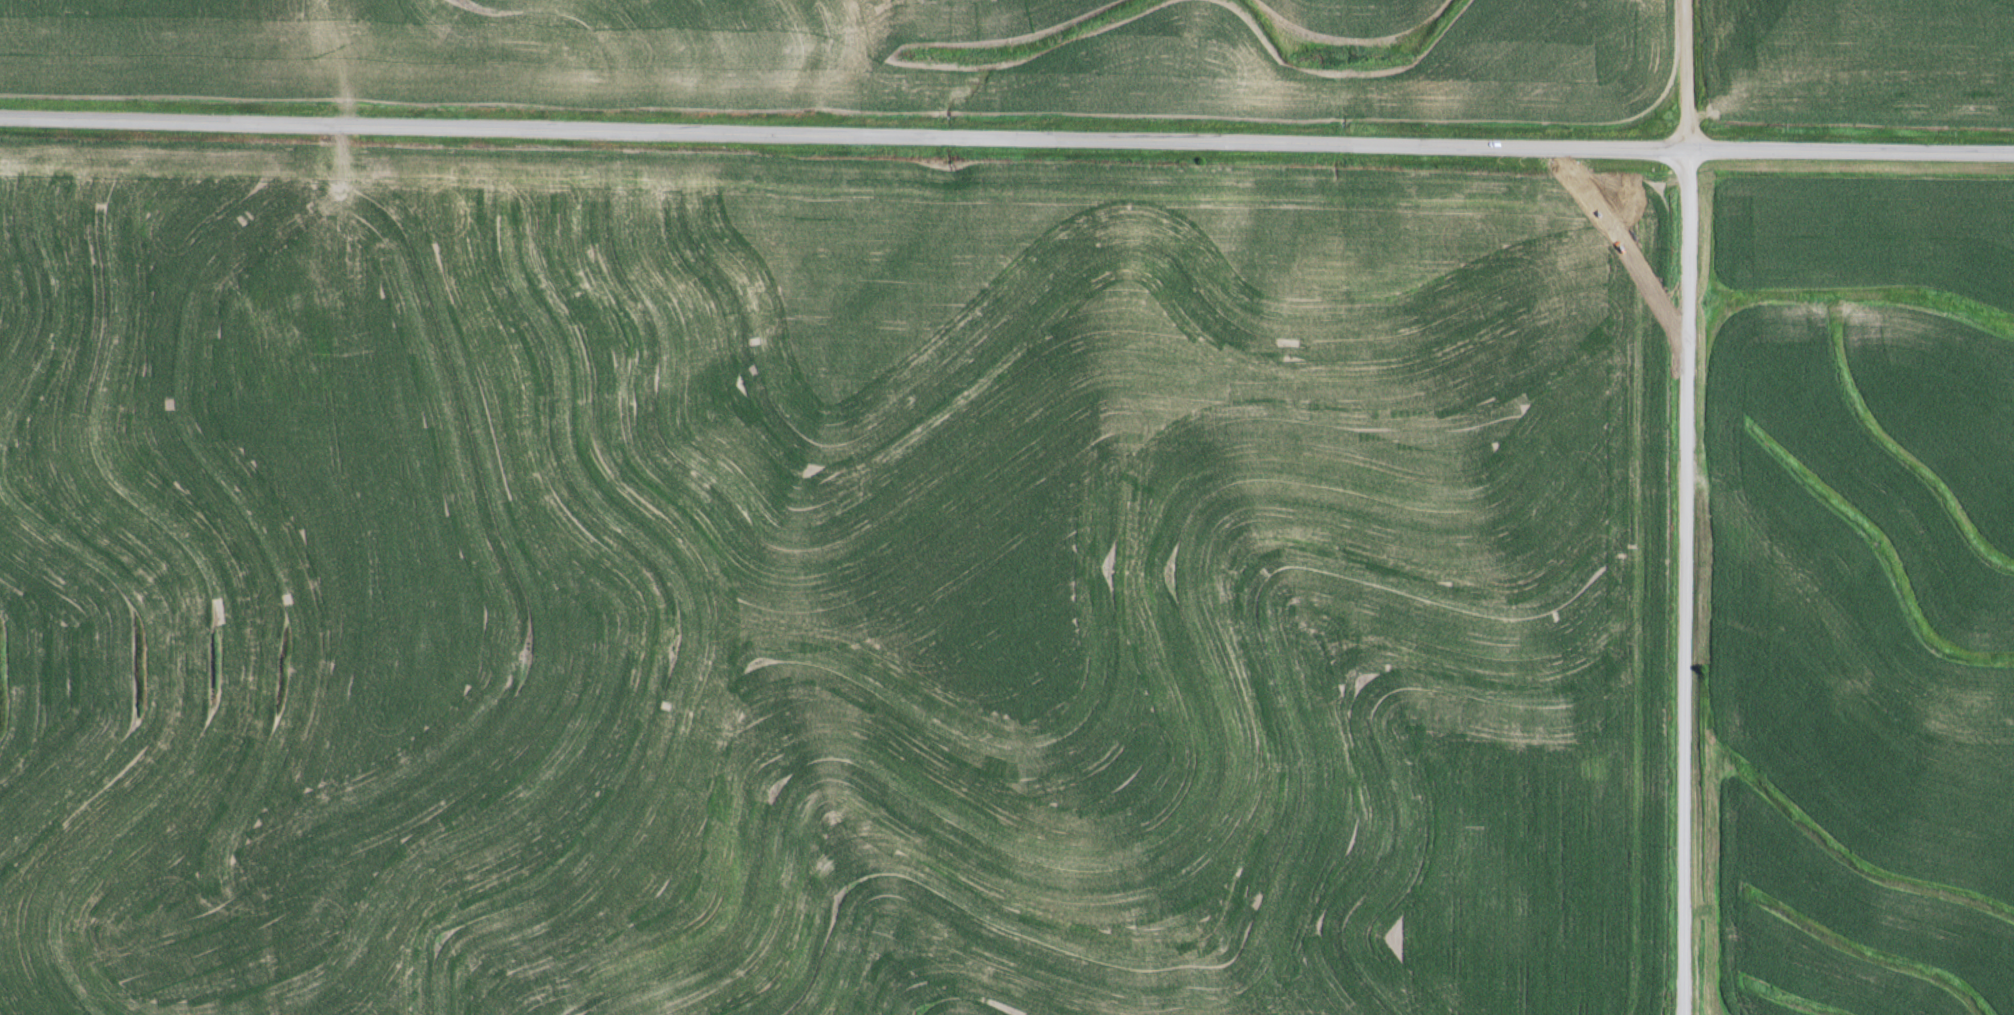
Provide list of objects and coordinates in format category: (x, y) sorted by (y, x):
road: (1688, 72)
road: (1007, 132)
road: (1686, 580)

